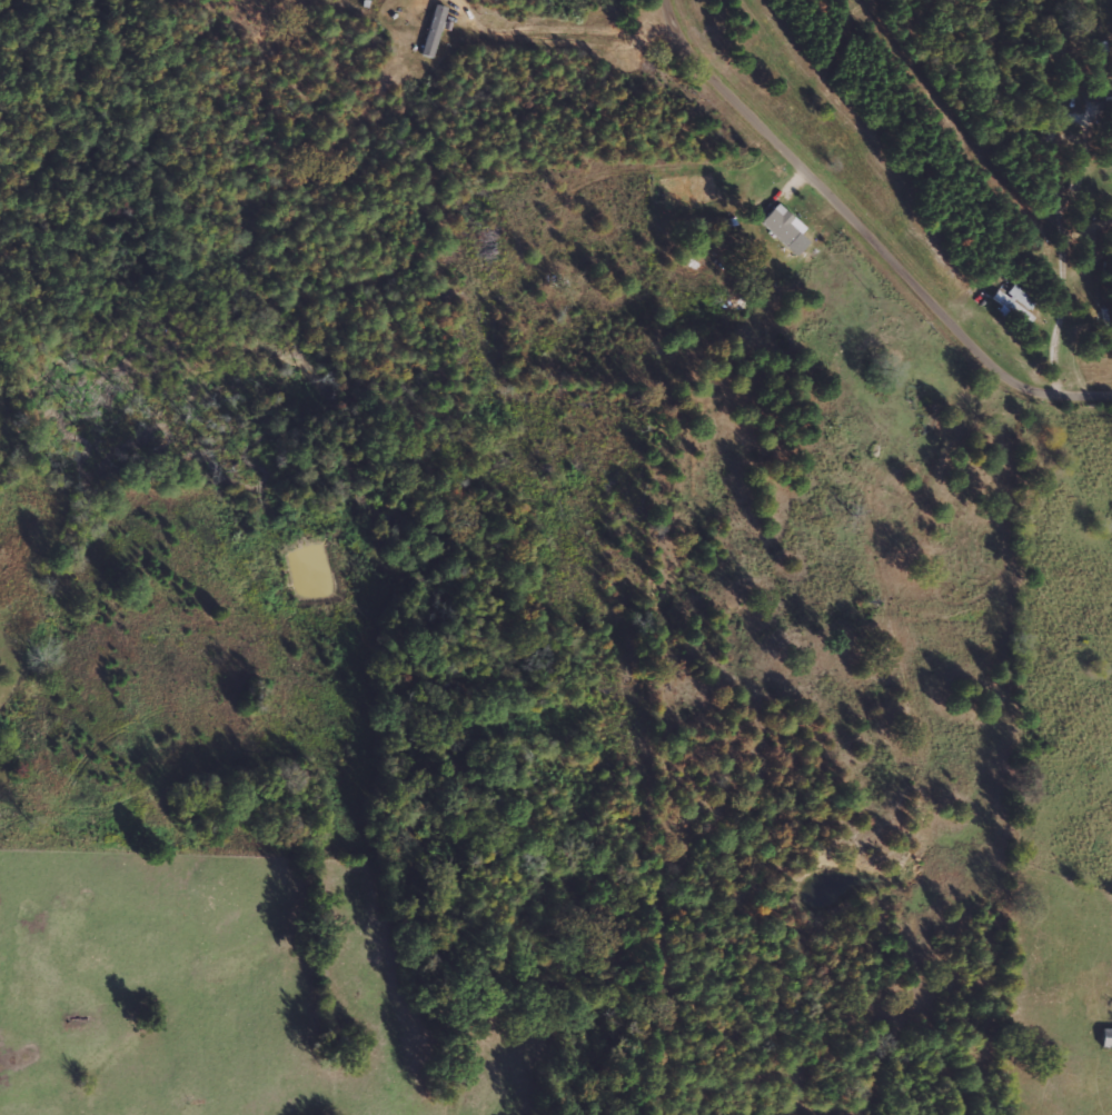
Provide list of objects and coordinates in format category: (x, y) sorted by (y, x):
building: (434, 30)
building: (784, 225)
road: (868, 232)
building: (1011, 306)
building: (1106, 1037)

